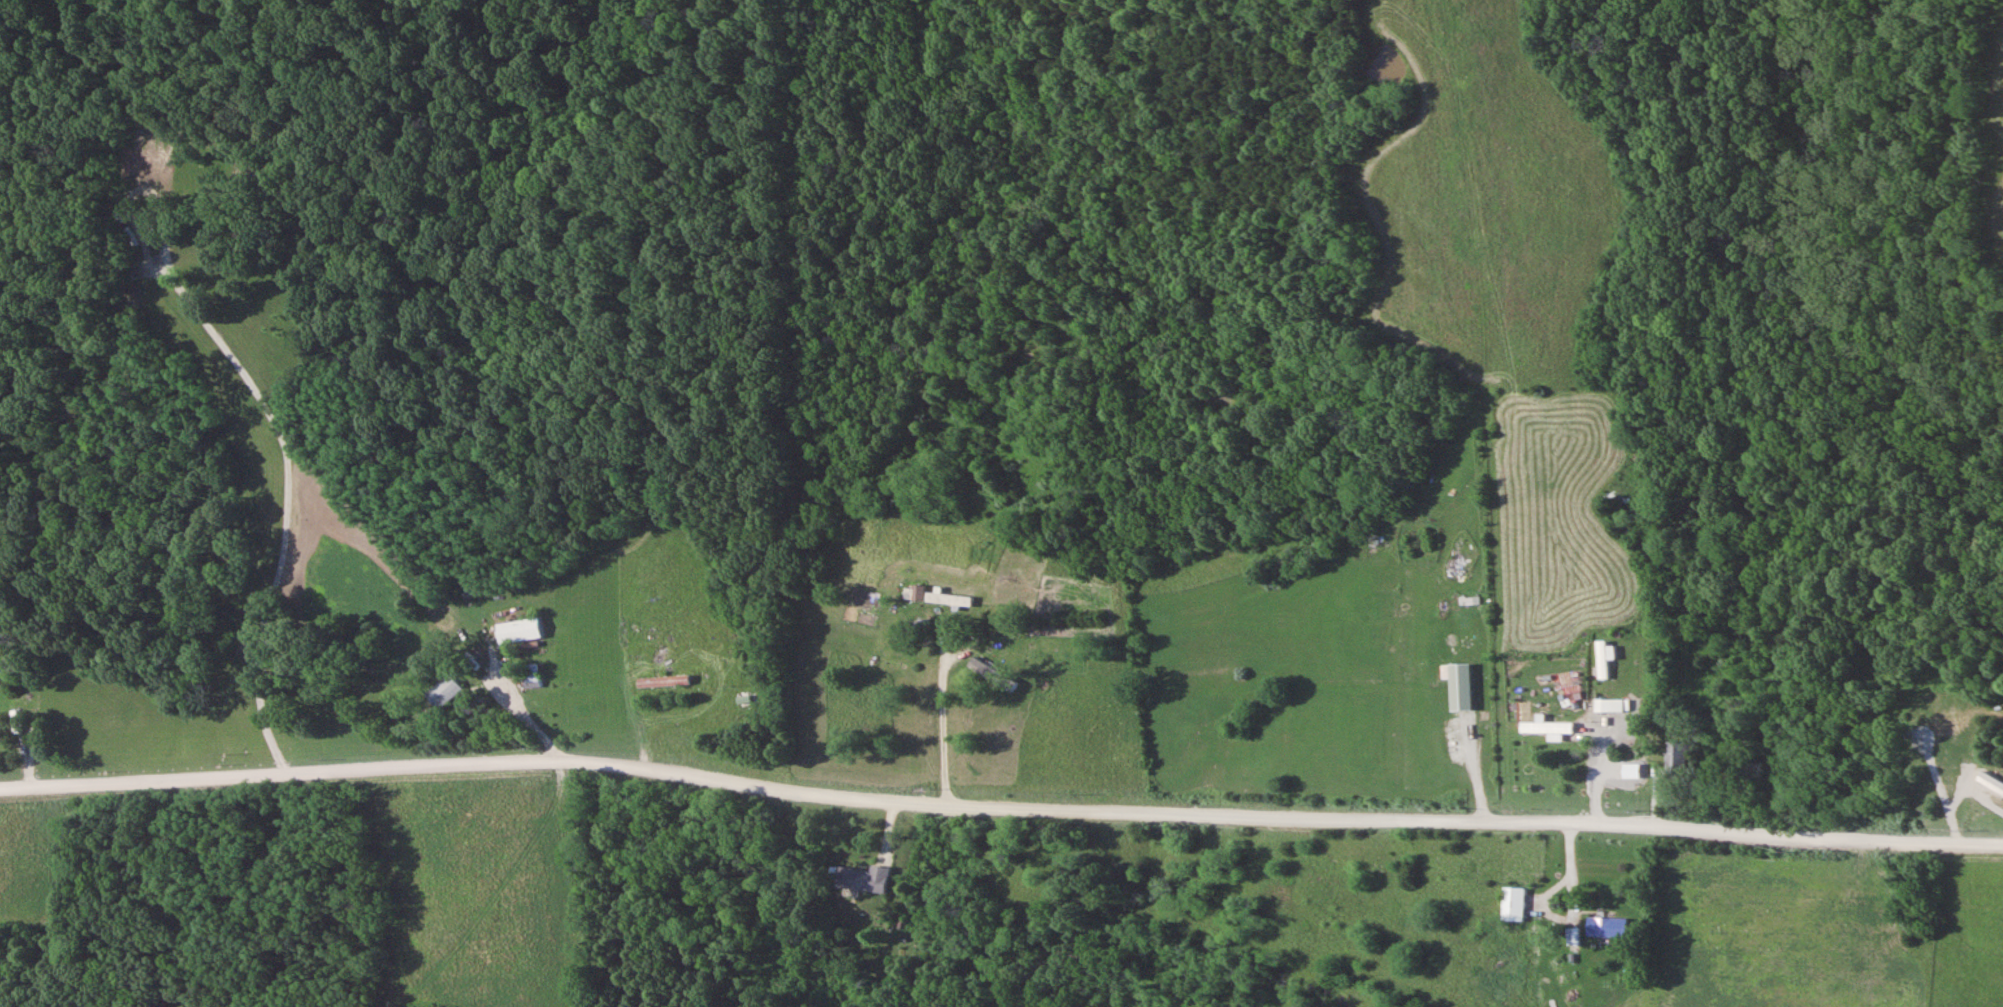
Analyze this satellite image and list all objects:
building: (918, 594)
building: (949, 600)
building: (520, 632)
building: (1603, 658)
building: (534, 676)
building: (667, 681)
building: (1460, 685)
building: (445, 691)
building: (1614, 705)
road: (941, 726)
building: (1552, 729)
building: (0, 735)
building: (1676, 756)
building: (1638, 769)
road: (281, 774)
road: (754, 785)
road: (1474, 818)
building: (863, 879)
building: (1515, 903)
building: (1608, 927)

